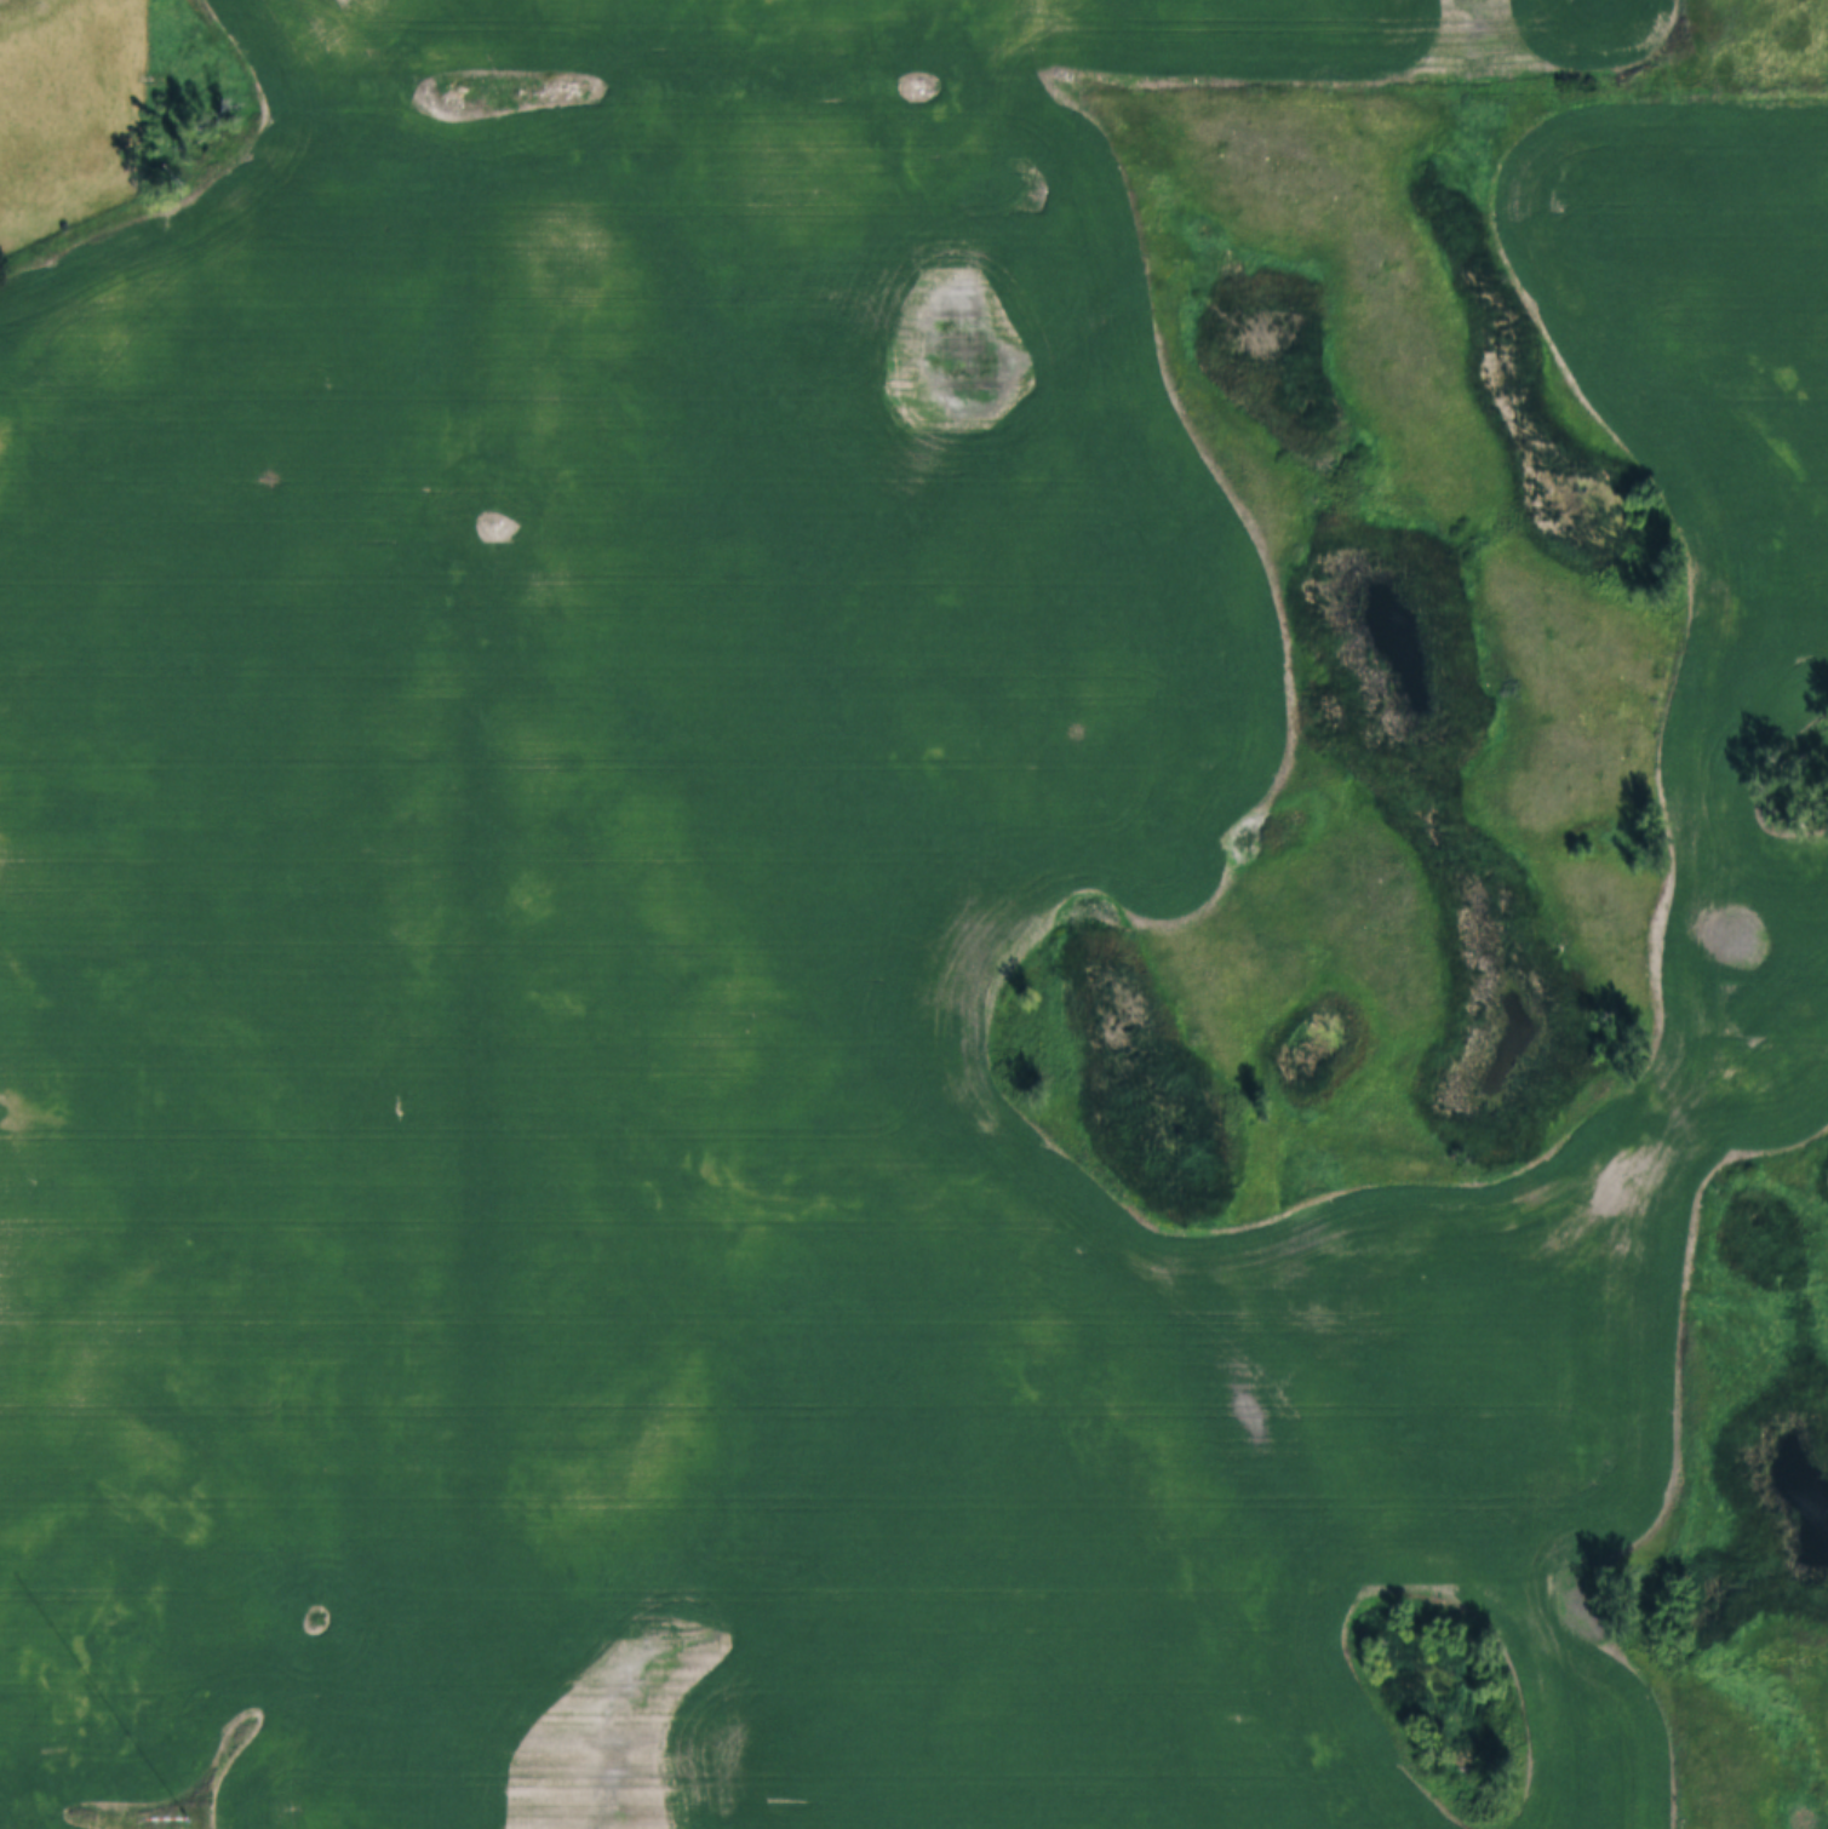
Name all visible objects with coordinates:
road: (229, 162)

